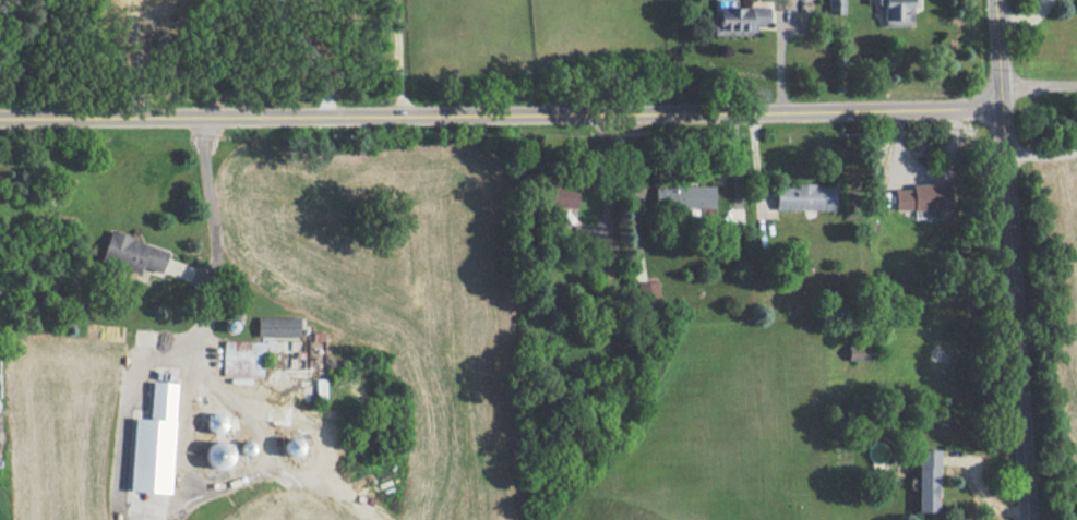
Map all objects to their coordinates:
building: (835, 7)
building: (894, 12)
building: (738, 19)
road: (996, 56)
road: (396, 59)
road: (243, 60)
road: (316, 60)
road: (1034, 90)
road: (500, 118)
building: (684, 195)
building: (560, 196)
building: (804, 196)
building: (922, 196)
building: (131, 253)
building: (646, 290)
road: (1012, 315)
building: (276, 326)
building: (859, 351)
building: (242, 358)
building: (214, 422)
building: (153, 442)
building: (217, 455)
road: (321, 462)
building: (926, 480)

